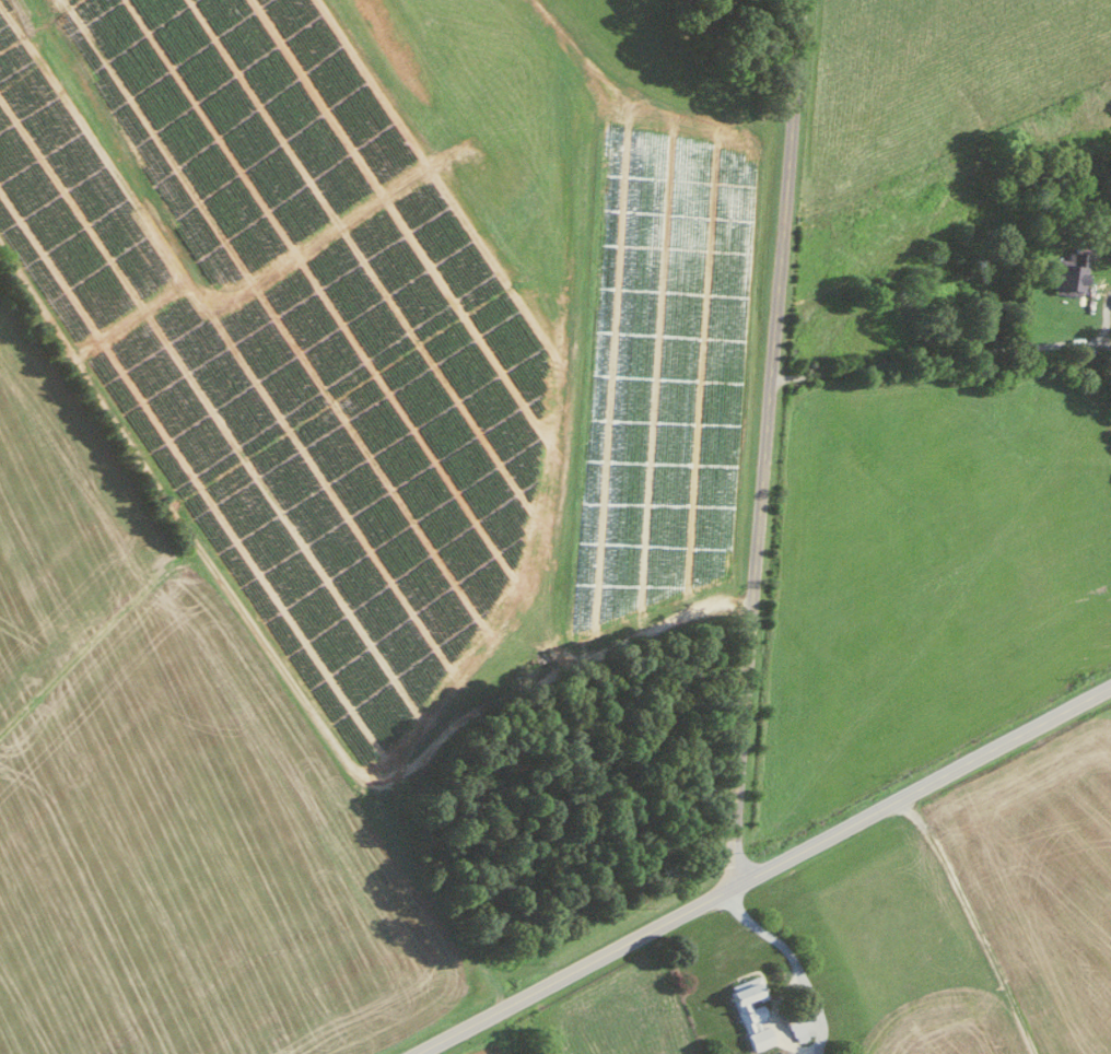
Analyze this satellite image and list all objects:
crop: (927, 148)
building: (1066, 279)
road: (955, 359)
road: (763, 443)
road: (198, 551)
road: (742, 598)
road: (569, 666)
road: (762, 870)
crop: (969, 909)
road: (972, 922)
crop: (620, 1008)
building: (749, 1010)
building: (795, 1029)

